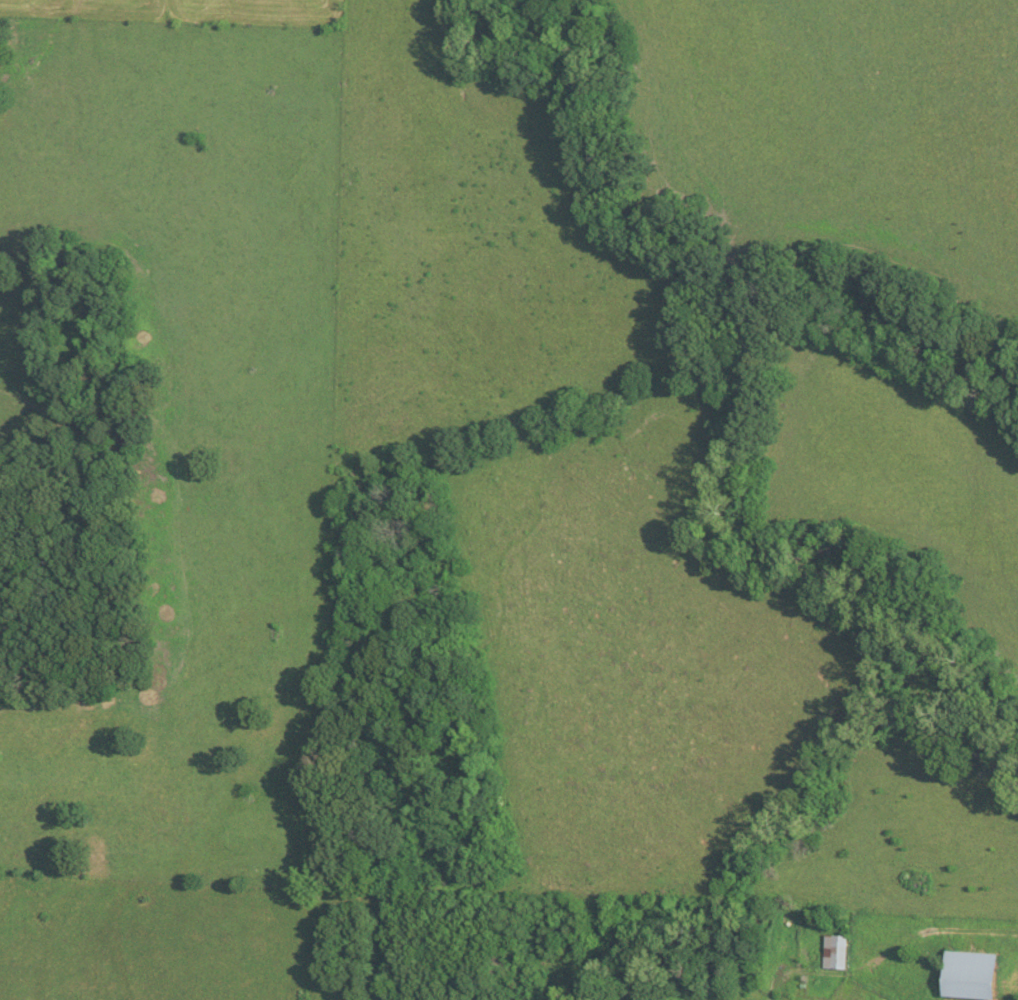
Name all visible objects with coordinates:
building: (842, 950)
building: (978, 973)

